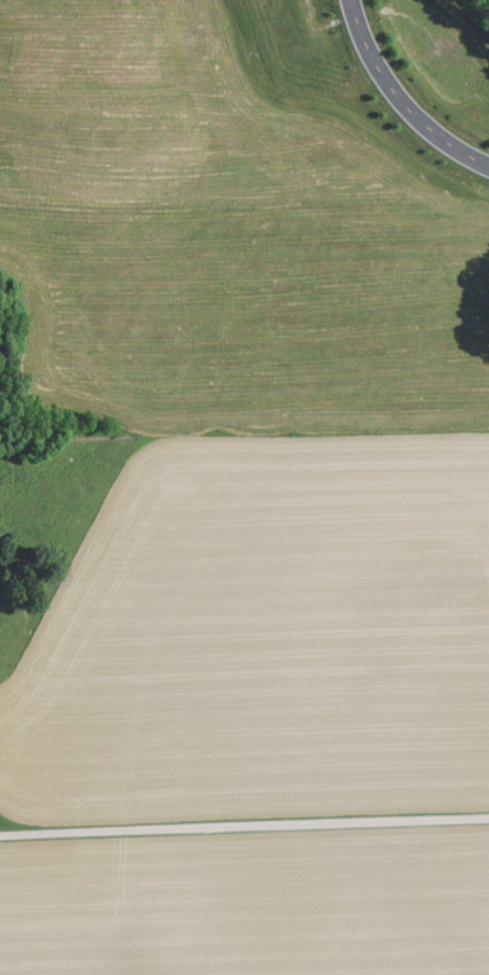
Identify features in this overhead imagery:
road: (401, 95)
road: (244, 821)

